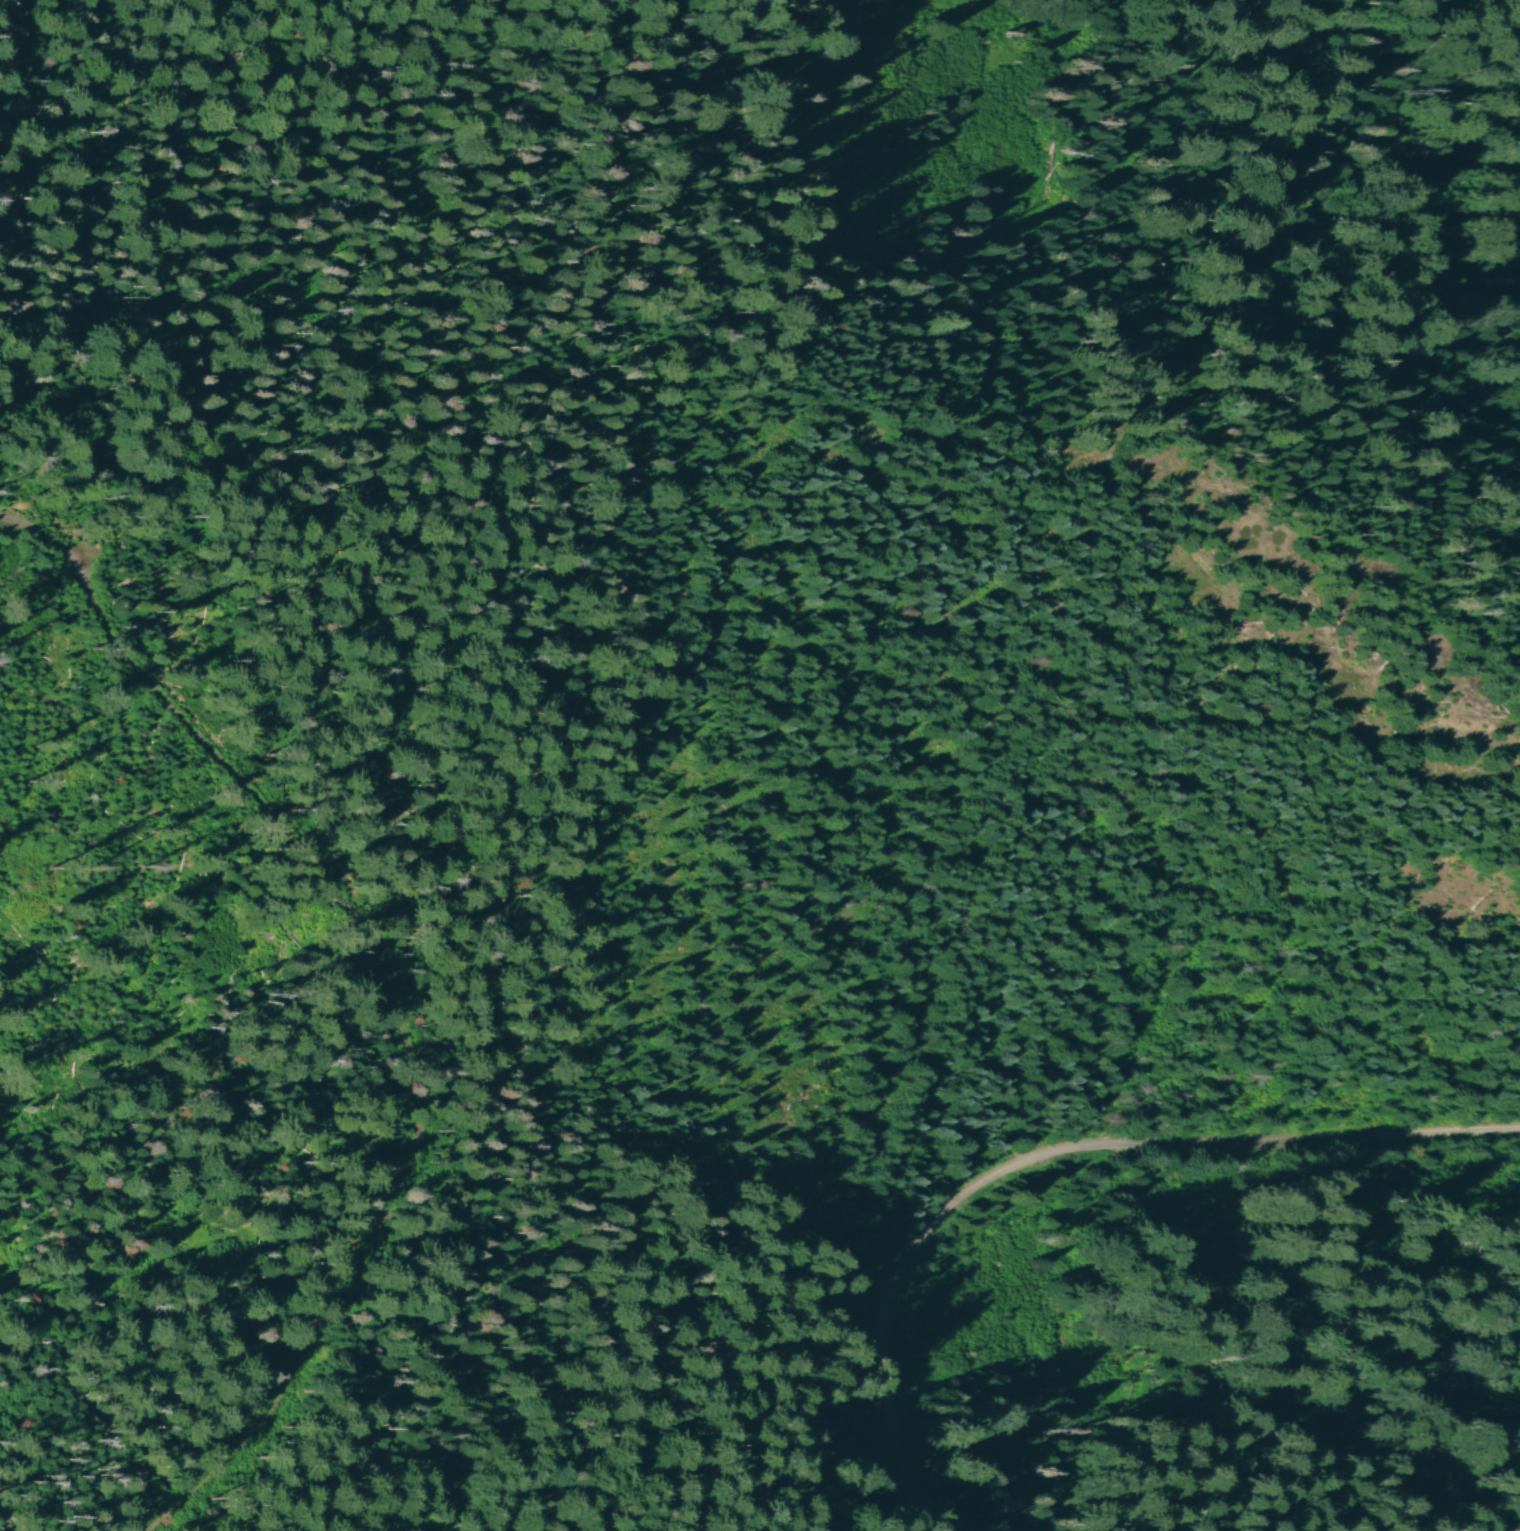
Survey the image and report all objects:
road: (610, 797)
road: (377, 1004)
road: (1046, 1157)

